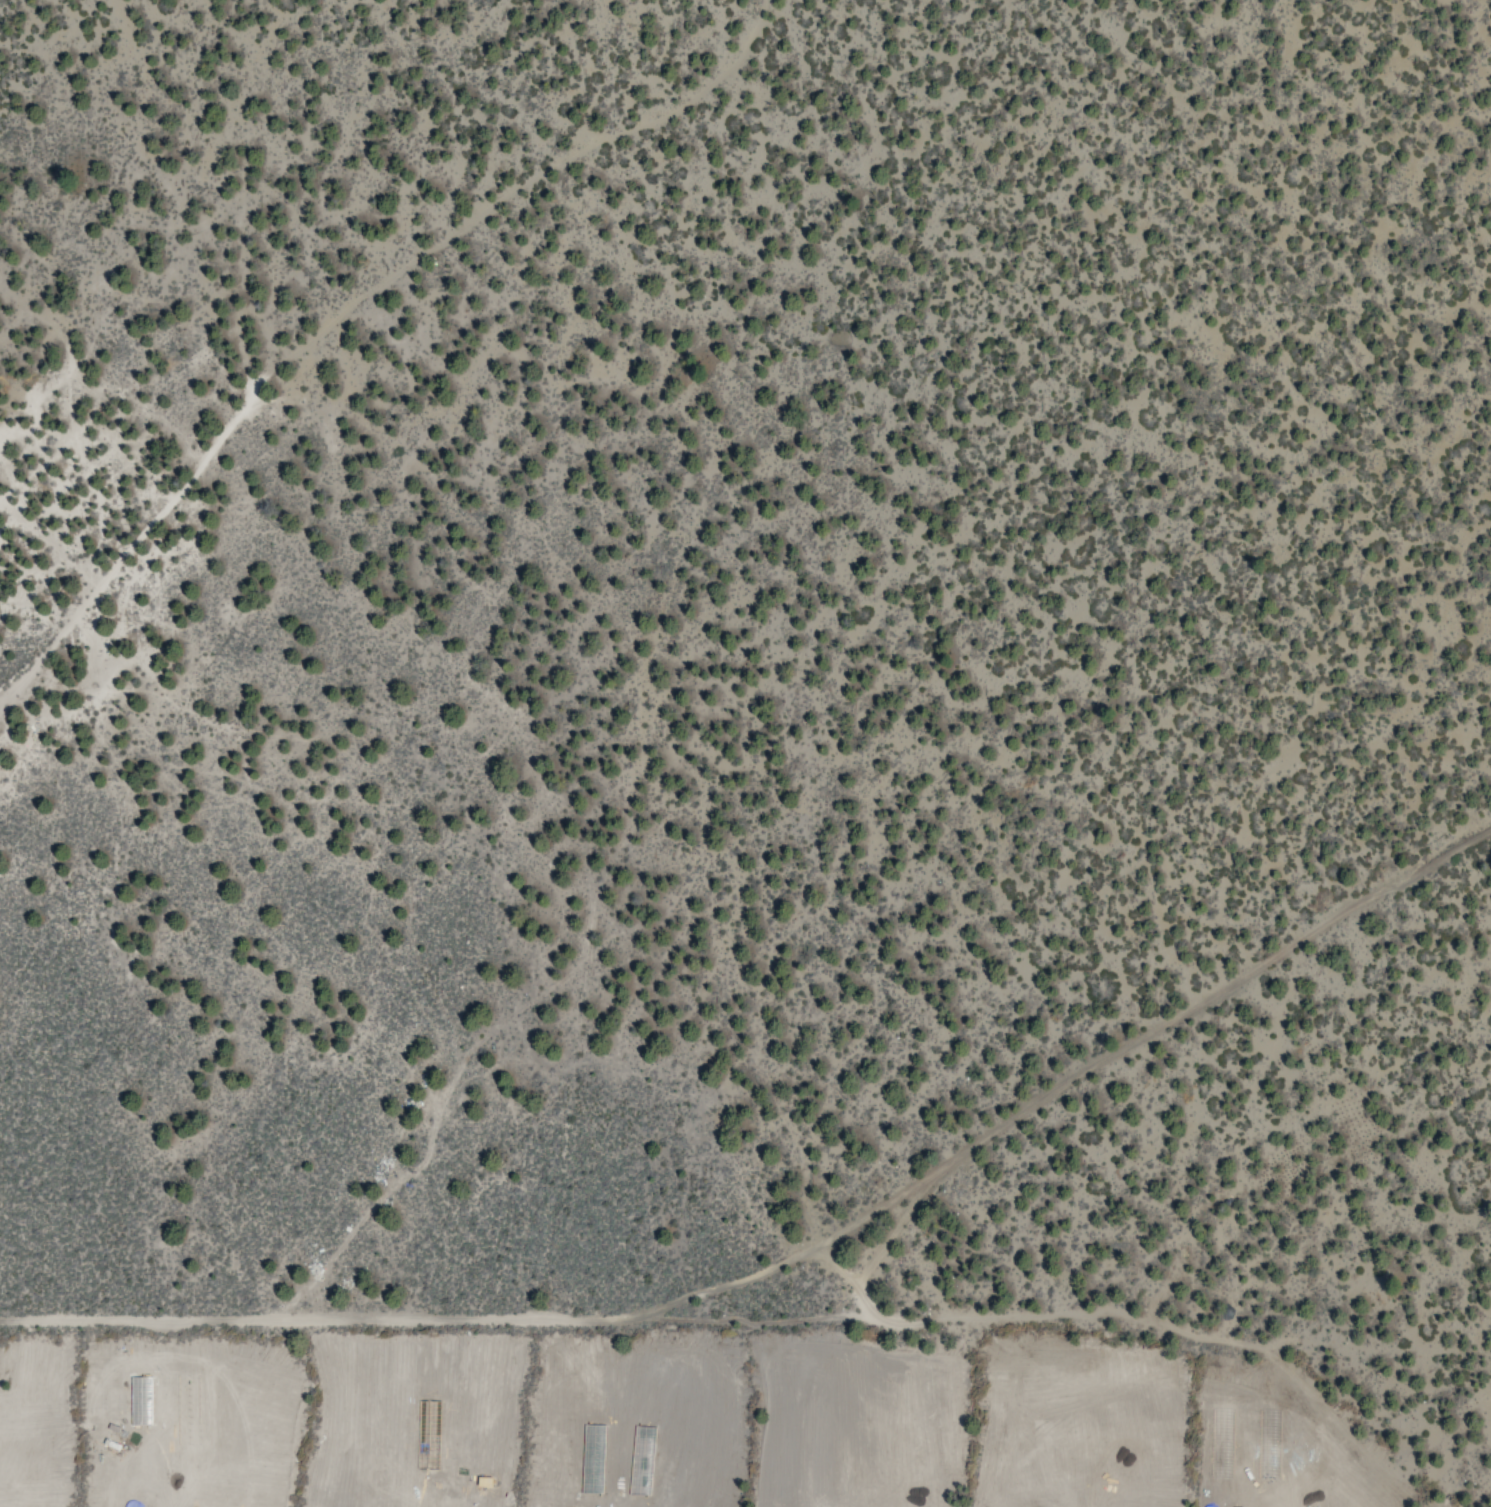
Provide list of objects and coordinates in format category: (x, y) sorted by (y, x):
road: (344, 296)
road: (800, 1251)

